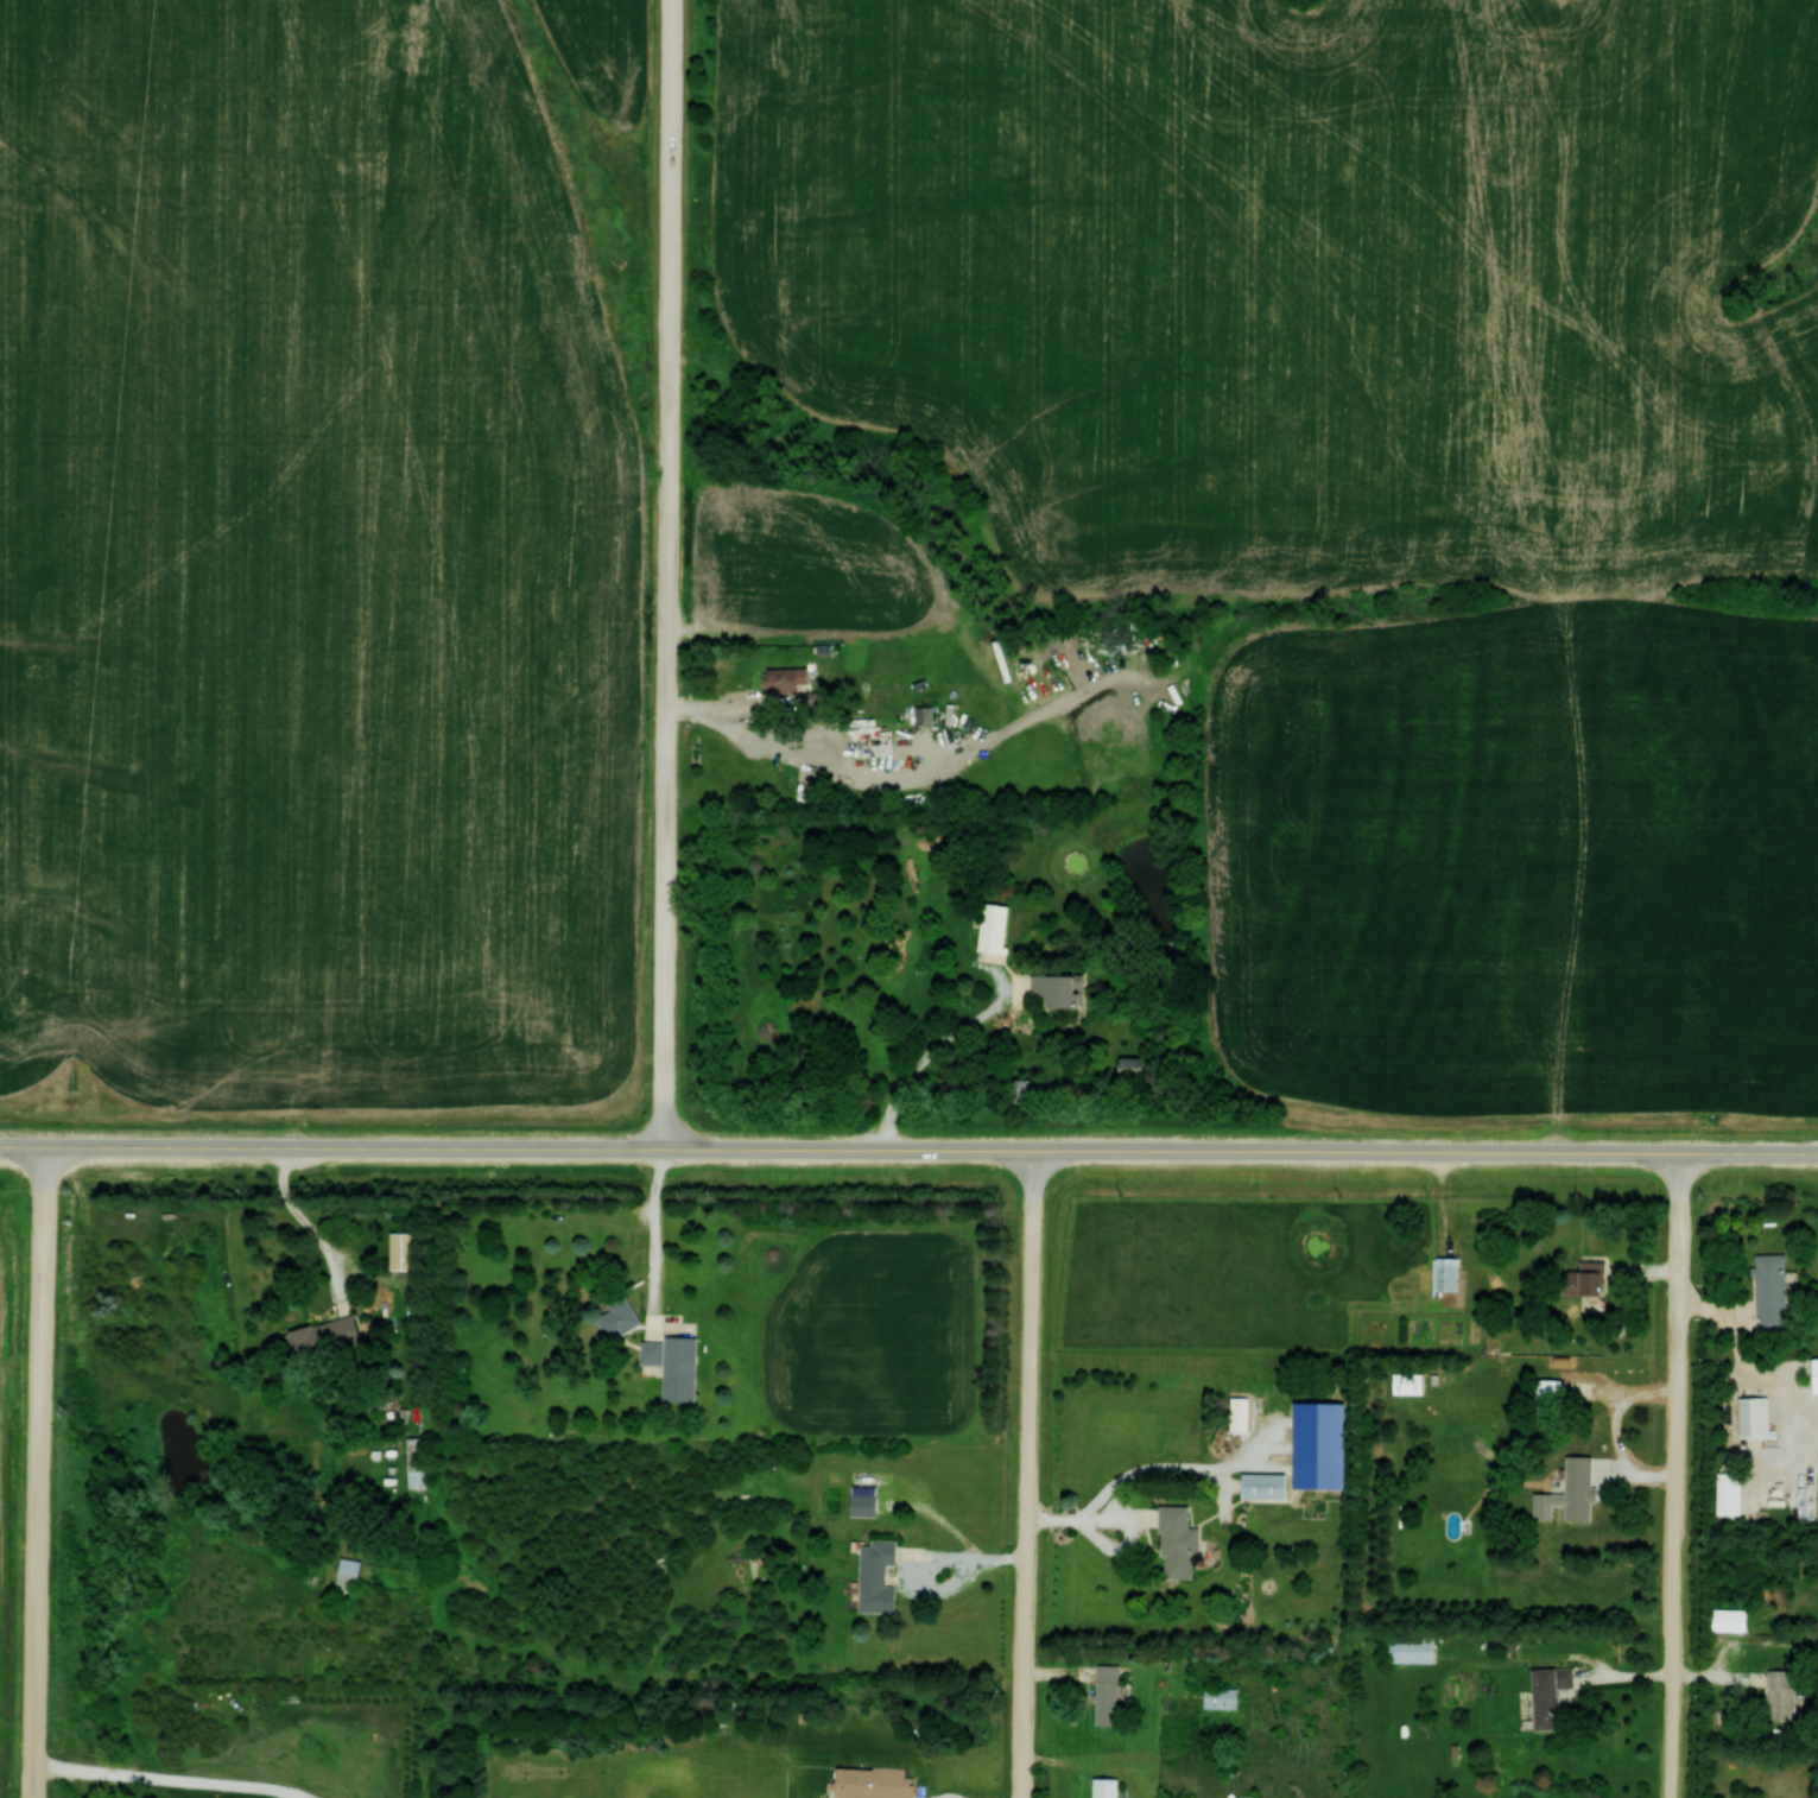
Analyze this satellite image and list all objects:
road: (667, 572)
building: (785, 679)
building: (812, 699)
building: (923, 715)
building: (869, 741)
building: (992, 928)
building: (1056, 990)
building: (1129, 1071)
building: (1019, 1091)
road: (20, 1145)
road: (353, 1146)
road: (1240, 1151)
building: (401, 1251)
building: (1446, 1275)
building: (1584, 1278)
building: (1769, 1292)
building: (617, 1318)
building: (324, 1336)
building: (672, 1365)
building: (1814, 1374)
building: (1406, 1382)
building: (1547, 1395)
building: (1753, 1416)
building: (416, 1461)
road: (36, 1471)
road: (1028, 1474)
road: (1674, 1475)
building: (1263, 1486)
building: (1576, 1488)
building: (1728, 1493)
building: (861, 1499)
building: (1177, 1544)
building: (347, 1572)
building: (875, 1576)
building: (1410, 1650)
building: (1106, 1693)
building: (1548, 1695)
building: (1780, 1695)
building: (1220, 1697)
building: (869, 1781)
building: (1104, 1787)

